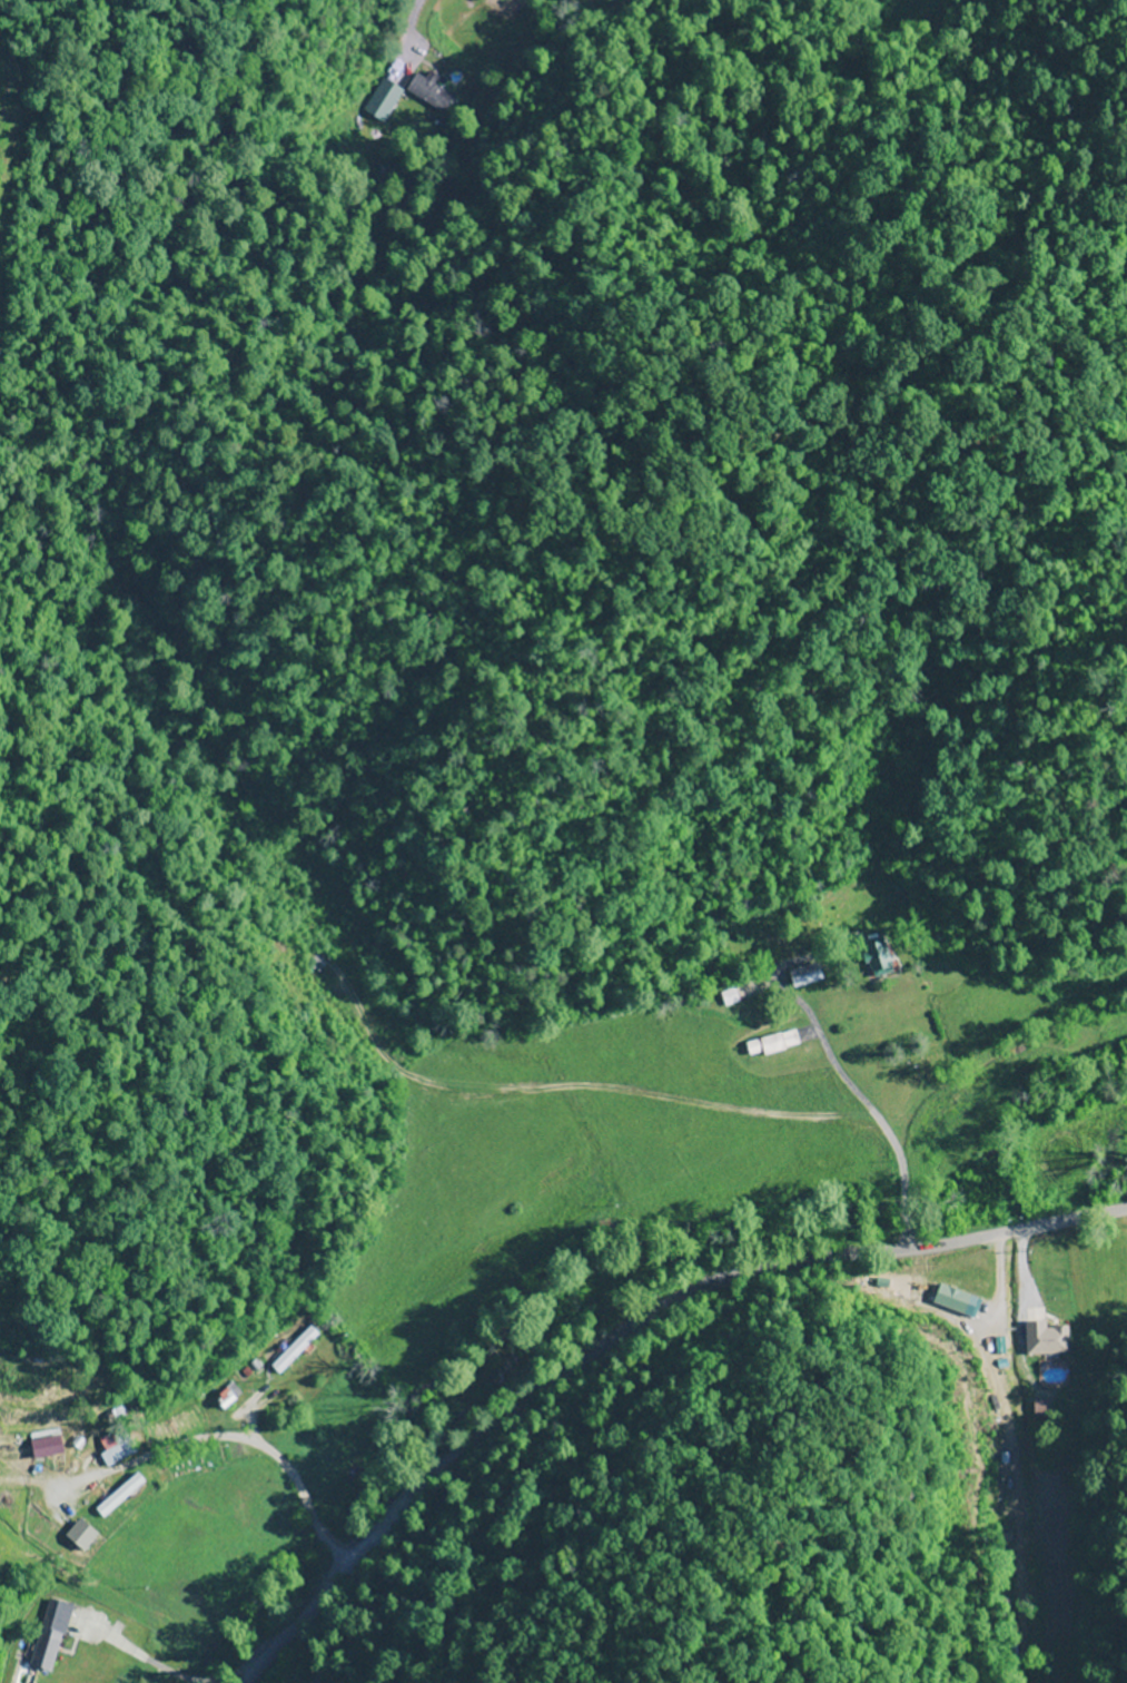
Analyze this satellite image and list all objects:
building: (874, 956)
building: (803, 976)
building: (741, 995)
building: (770, 1045)
road: (627, 1331)
building: (1047, 1345)
building: (291, 1351)
building: (225, 1396)
building: (116, 1454)
building: (196, 1463)
building: (79, 1535)
building: (49, 1634)
road: (122, 1666)

